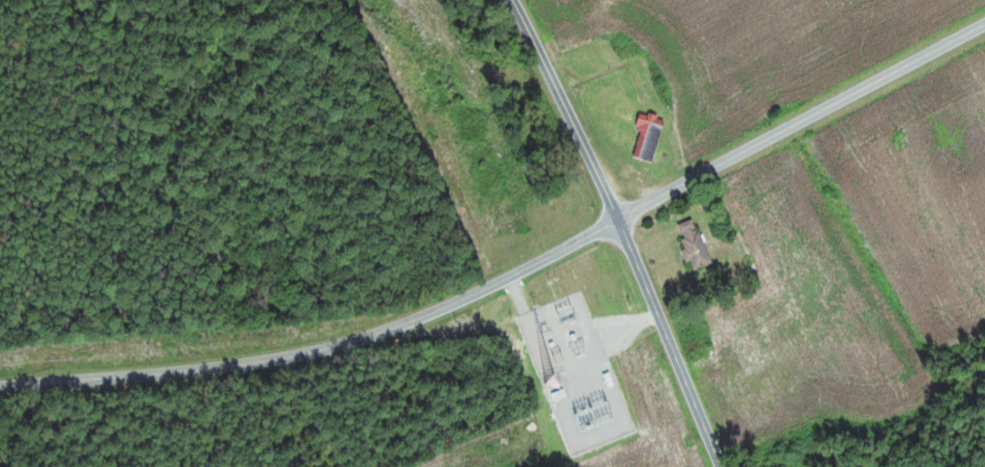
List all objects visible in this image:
building: (578, 27)
building: (620, 110)
building: (644, 136)
road: (624, 230)
building: (688, 242)
road: (515, 272)
power substation: (570, 373)

